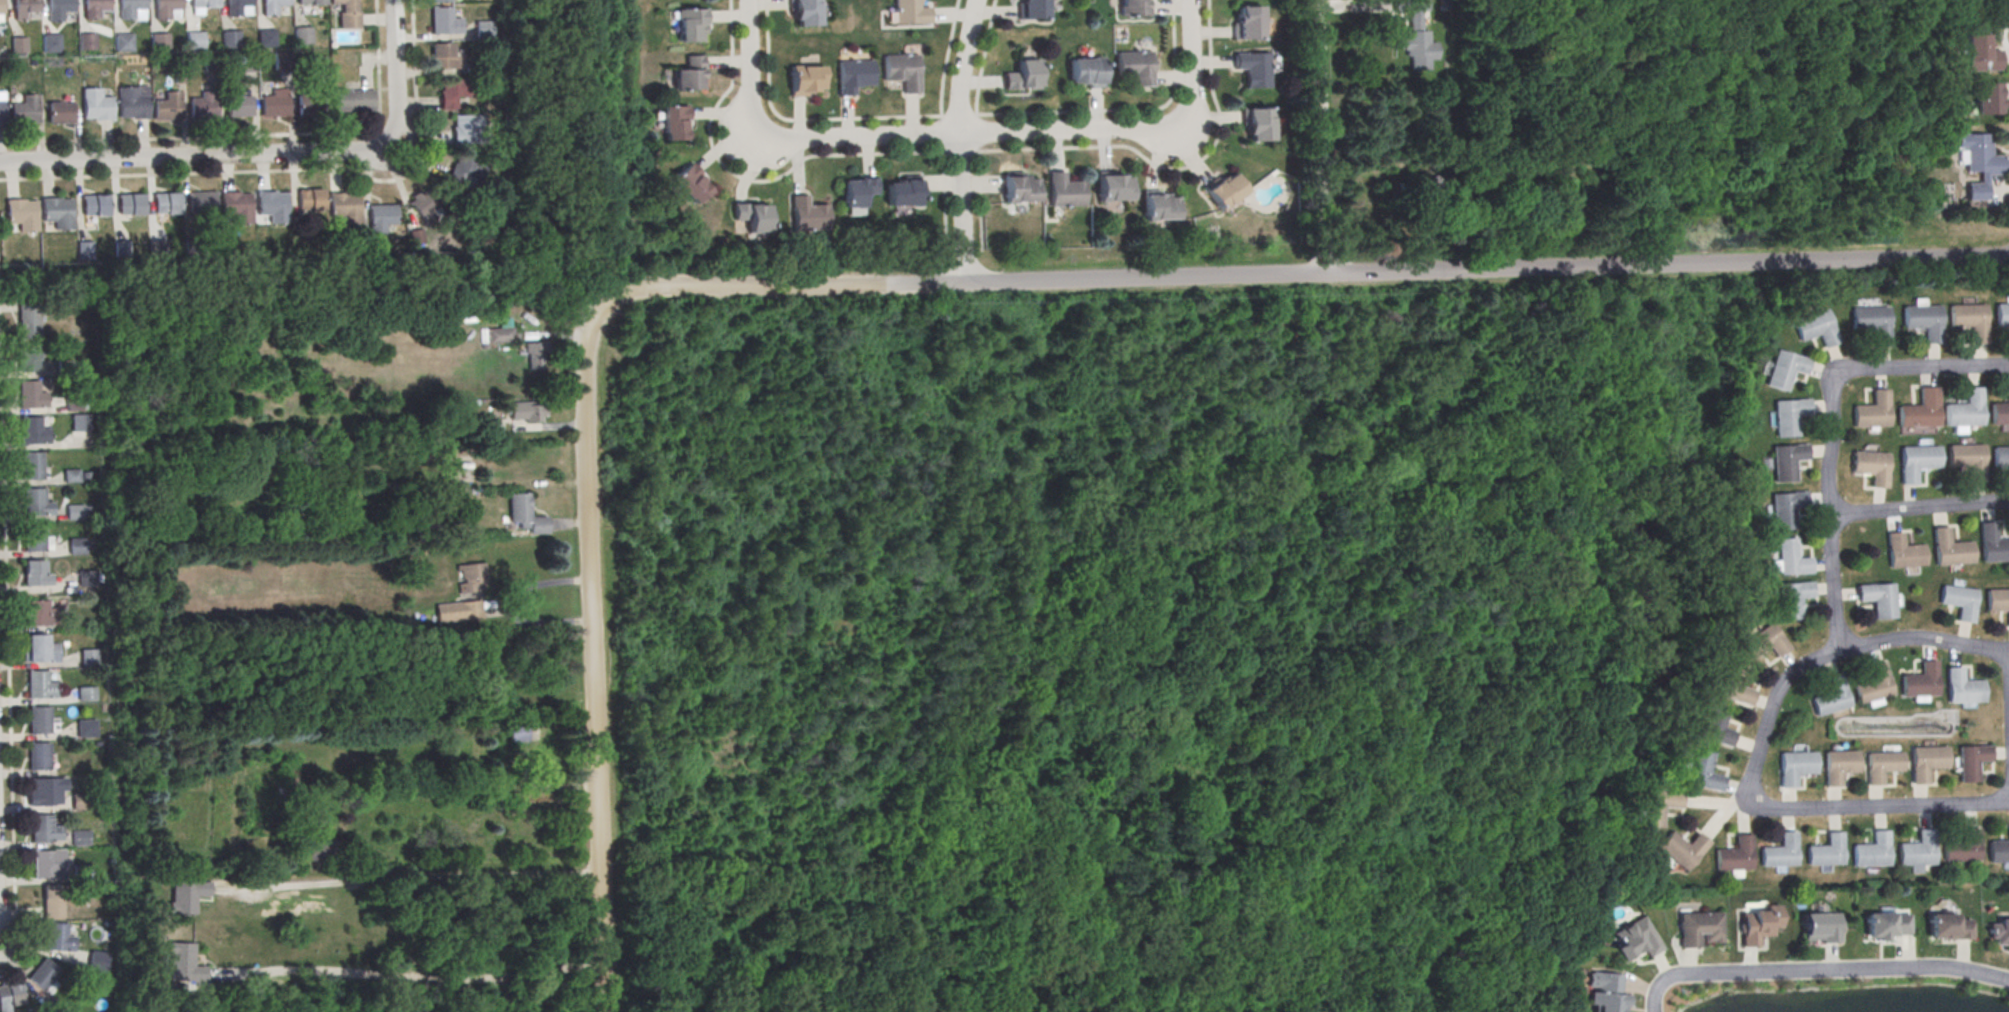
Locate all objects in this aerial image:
building: (441, 0)
building: (310, 1)
building: (203, 3)
building: (1443, 4)
building: (271, 5)
building: (1, 6)
building: (236, 6)
road: (1354, 6)
building: (130, 7)
building: (166, 7)
building: (24, 8)
building: (59, 8)
building: (95, 8)
building: (1032, 9)
building: (1131, 10)
building: (911, 12)
building: (347, 14)
building: (803, 14)
building: (443, 24)
building: (1247, 26)
building: (690, 27)
building: (483, 28)
building: (301, 35)
building: (1415, 35)
building: (265, 37)
building: (230, 38)
building: (194, 40)
building: (87, 41)
building: (159, 41)
building: (50, 42)
building: (123, 42)
building: (17, 44)
building: (1980, 53)
building: (443, 55)
road: (947, 57)
road: (983, 57)
building: (1135, 66)
road: (1192, 70)
road: (395, 71)
building: (902, 71)
building: (1086, 71)
building: (1252, 71)
building: (689, 73)
road: (750, 75)
building: (854, 75)
building: (1022, 75)
building: (805, 79)
building: (452, 92)
building: (1987, 98)
building: (347, 99)
building: (306, 104)
building: (132, 106)
building: (96, 107)
building: (239, 108)
building: (273, 108)
road: (1125, 109)
building: (201, 110)
building: (25, 112)
building: (166, 112)
building: (1, 115)
building: (60, 115)
road: (960, 115)
road: (801, 118)
building: (674, 122)
building: (1257, 127)
building: (465, 128)
road: (977, 132)
road: (943, 133)
road: (965, 134)
road: (252, 136)
road: (1317, 136)
road: (957, 140)
road: (960, 150)
road: (194, 156)
building: (1977, 162)
road: (544, 163)
road: (1170, 166)
building: (465, 171)
road: (171, 175)
road: (747, 178)
building: (691, 183)
building: (1113, 186)
building: (1020, 188)
building: (857, 190)
building: (903, 190)
building: (1064, 190)
building: (1224, 190)
building: (310, 198)
road: (980, 199)
building: (202, 200)
building: (166, 201)
building: (236, 202)
building: (272, 202)
building: (423, 202)
road: (944, 202)
building: (130, 203)
building: (95, 204)
building: (343, 204)
building: (1159, 205)
building: (381, 214)
building: (807, 214)
building: (57, 215)
building: (752, 215)
building: (21, 217)
building: (158, 246)
building: (85, 249)
road: (1484, 269)
road: (759, 288)
road: (1513, 301)
building: (2001, 316)
building: (28, 318)
building: (1969, 322)
building: (1924, 323)
road: (644, 325)
building: (1872, 325)
building: (1816, 329)
building: (499, 338)
building: (534, 355)
building: (28, 361)
road: (1920, 367)
building: (1785, 371)
building: (30, 398)
building: (73, 406)
building: (1921, 412)
building: (1964, 412)
building: (526, 414)
building: (1872, 414)
building: (1789, 415)
building: (1999, 416)
building: (79, 425)
road: (547, 427)
building: (32, 434)
building: (2000, 459)
building: (1787, 461)
building: (1967, 461)
building: (1916, 463)
building: (31, 468)
building: (1871, 468)
building: (70, 478)
building: (32, 503)
road: (1918, 507)
building: (1786, 508)
building: (523, 514)
building: (73, 515)
road: (1827, 516)
road: (564, 524)
building: (33, 541)
building: (1992, 547)
building: (75, 549)
building: (1949, 551)
building: (1903, 555)
building: (1790, 557)
building: (33, 577)
building: (467, 577)
building: (85, 581)
road: (740, 588)
road: (1034, 588)
building: (1792, 597)
building: (1958, 600)
building: (1878, 601)
building: (1997, 601)
road: (506, 608)
building: (456, 611)
building: (35, 615)
road: (1922, 639)
building: (1764, 643)
building: (34, 651)
building: (88, 660)
road: (6, 661)
road: (1607, 671)
road: (588, 674)
building: (1919, 680)
building: (1873, 685)
building: (36, 686)
building: (1732, 686)
building: (1961, 687)
building: (85, 696)
building: (1830, 697)
road: (2008, 701)
building: (38, 723)
building: (82, 727)
building: (1715, 729)
building: (515, 732)
road: (669, 741)
building: (548, 756)
building: (37, 757)
building: (1925, 761)
building: (1969, 761)
building: (1837, 765)
building: (1880, 765)
building: (1793, 766)
building: (1701, 774)
road: (456, 787)
building: (37, 792)
building: (78, 801)
building: (1655, 807)
road: (1785, 809)
building: (42, 829)
building: (77, 838)
building: (317, 840)
building: (1962, 846)
building: (1998, 849)
building: (1680, 850)
building: (1916, 850)
building: (1824, 851)
building: (1870, 851)
building: (1778, 852)
building: (1734, 854)
building: (46, 864)
building: (79, 874)
road: (400, 875)
building: (184, 896)
building: (52, 903)
building: (1757, 924)
building: (1885, 924)
road: (794, 926)
building: (1819, 926)
building: (1946, 927)
building: (1696, 928)
building: (1999, 931)
building: (58, 937)
building: (1635, 938)
road: (27, 940)
building: (97, 960)
building: (181, 963)
road: (1819, 971)
building: (43, 974)
road: (401, 977)
road: (1637, 987)
road: (1573, 991)
building: (1603, 991)
road: (1629, 995)
building: (10, 996)
road: (1545, 997)
road: (1633, 1008)

